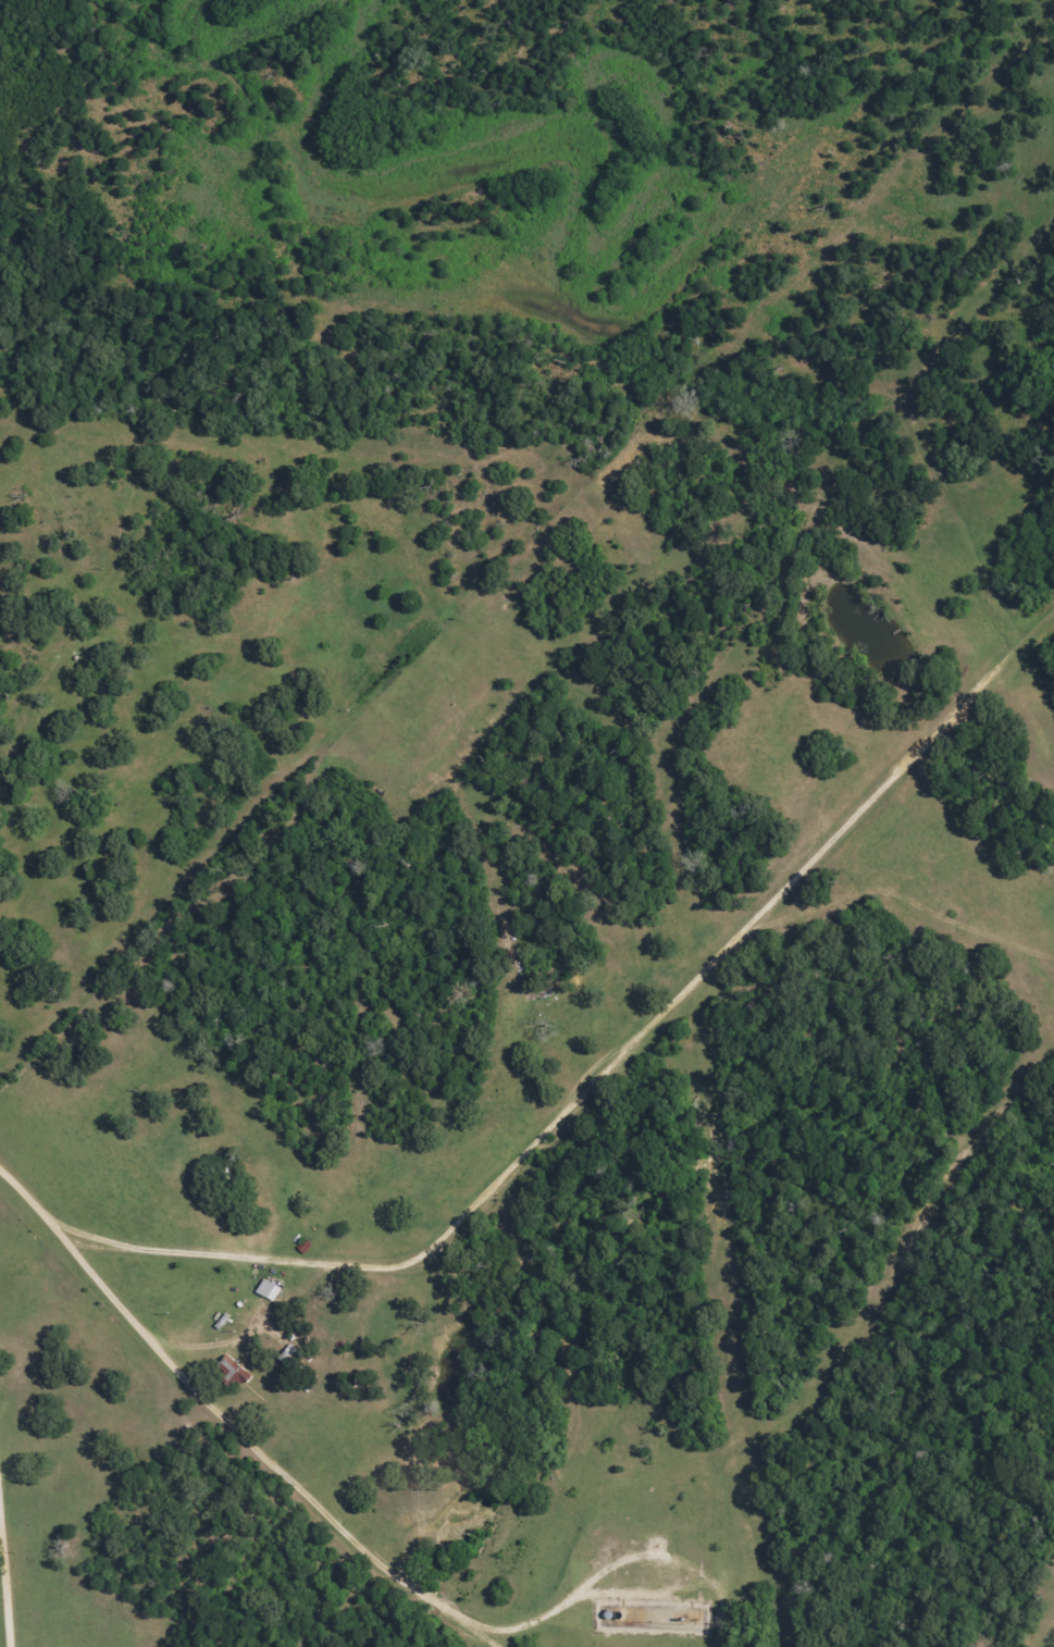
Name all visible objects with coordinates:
building: (269, 1290)
building: (235, 1373)

